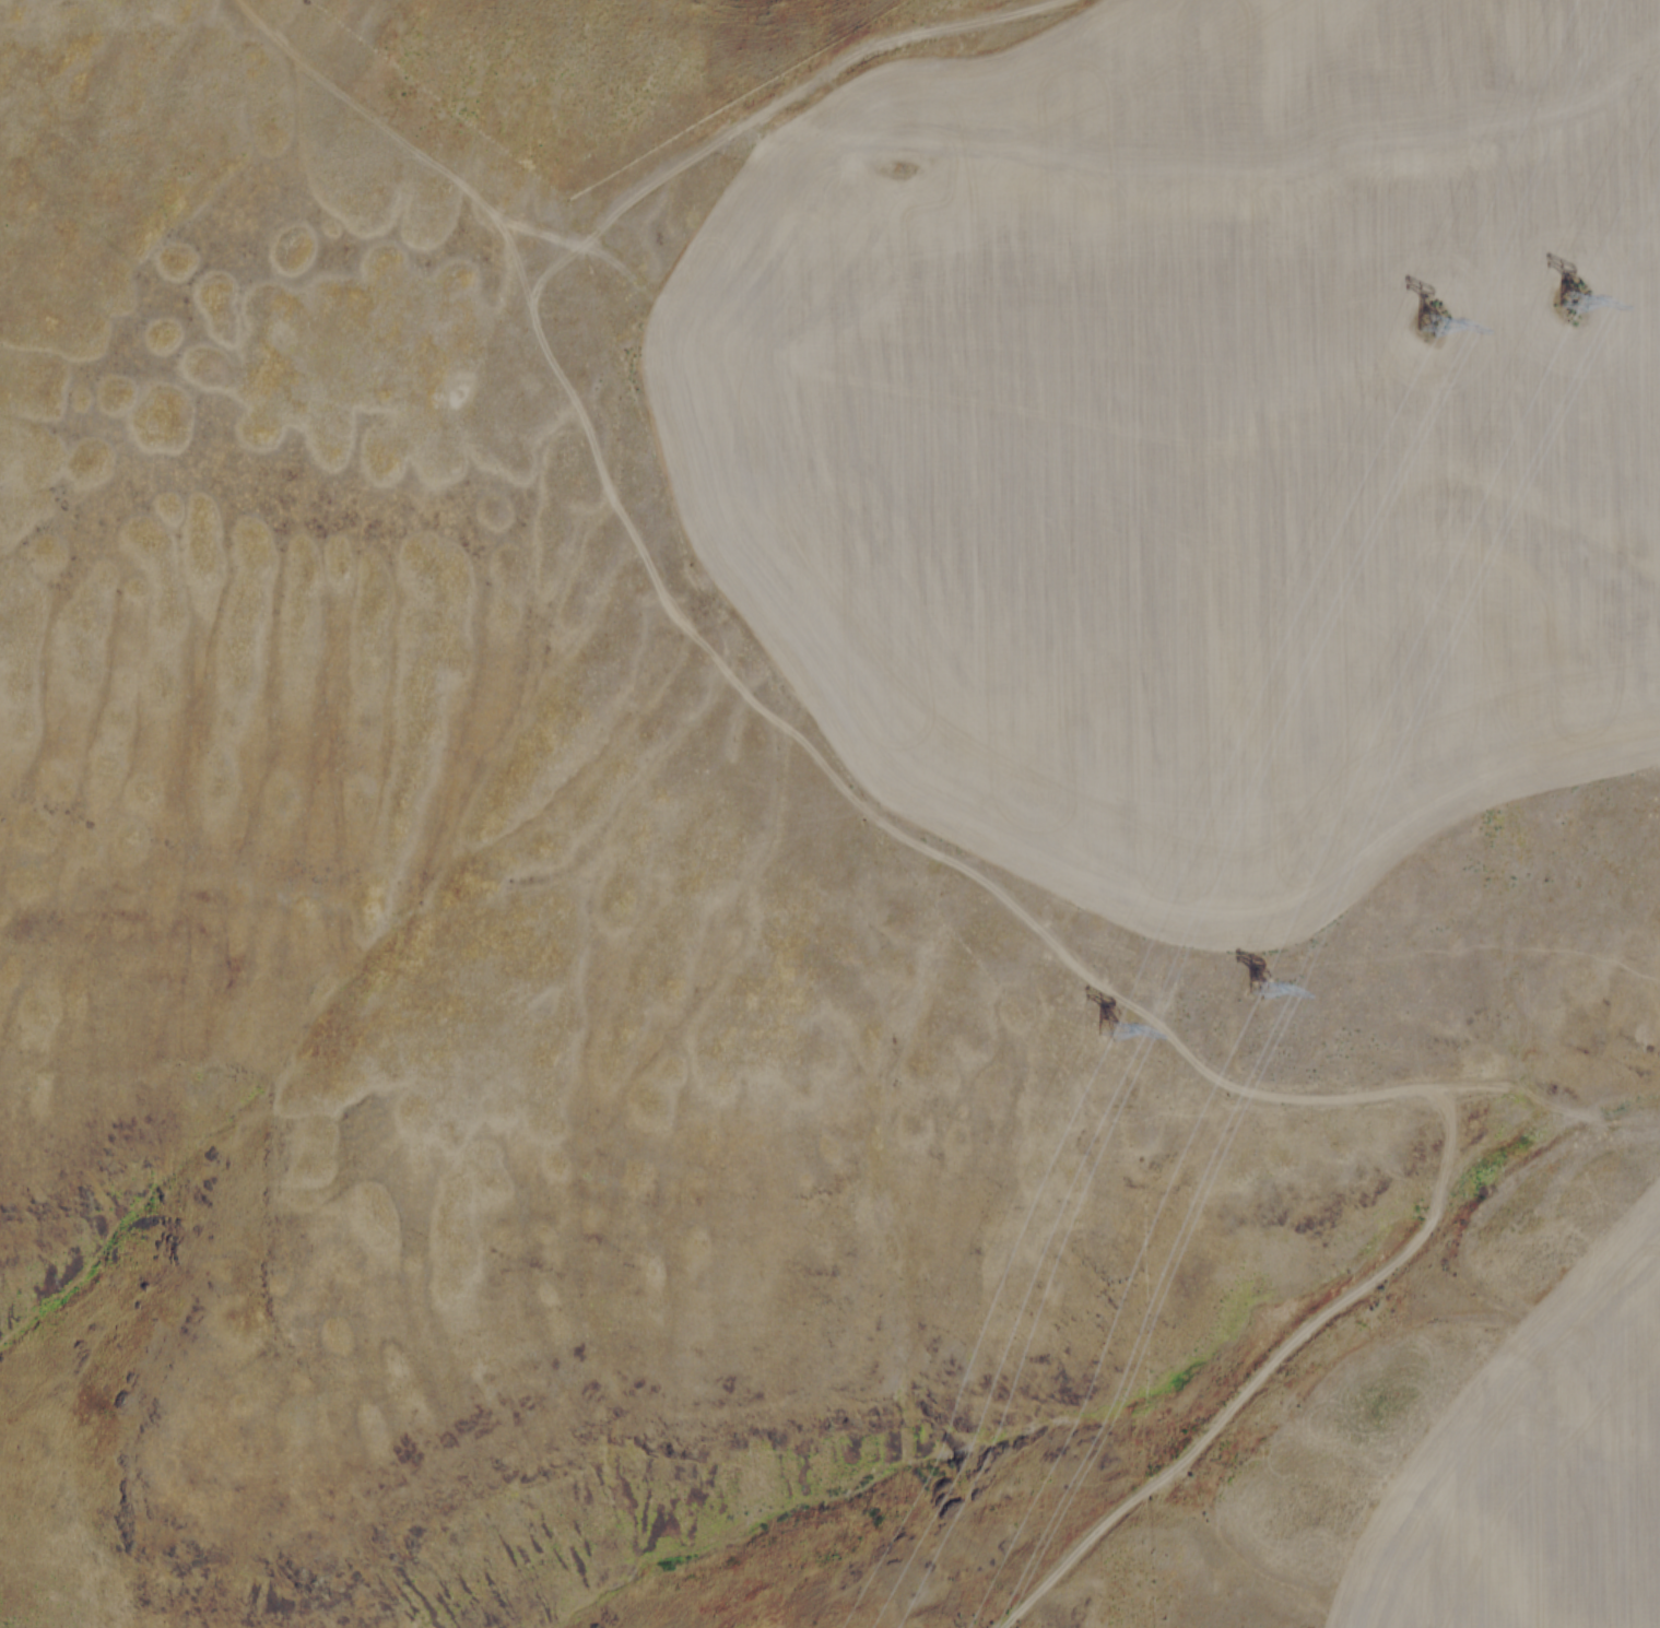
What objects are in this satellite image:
power tower: (1576, 300)
power tower: (1440, 331)
power tower: (1274, 1014)
power tower: (1120, 1034)

